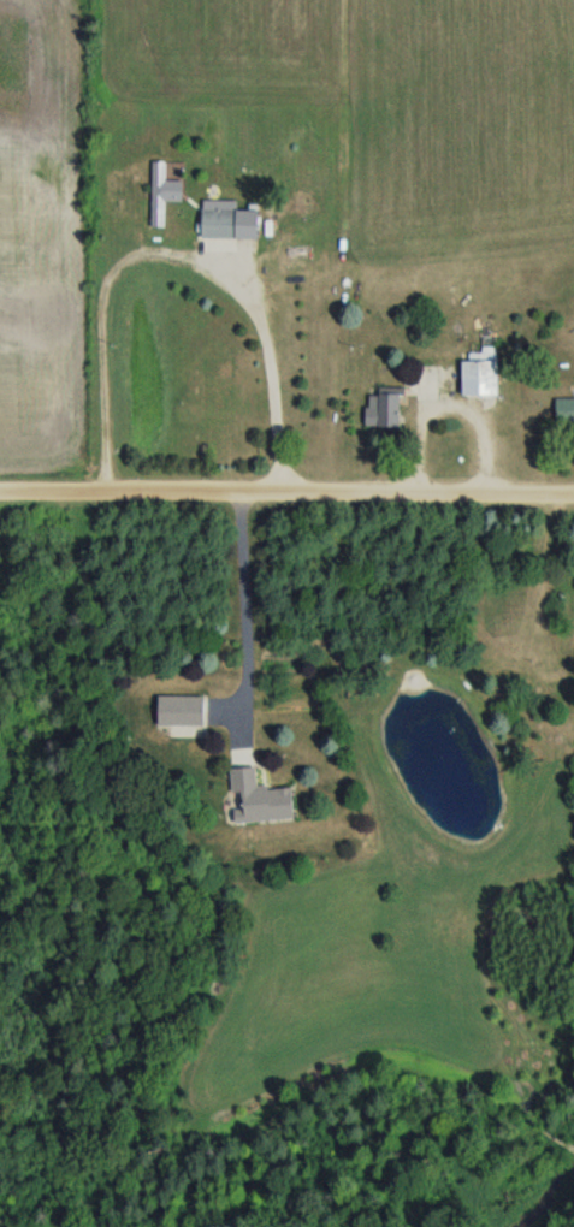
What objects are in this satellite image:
building: (164, 192)
building: (221, 223)
road: (168, 253)
building: (484, 371)
building: (387, 408)
building: (564, 410)
road: (286, 485)
road: (244, 604)
building: (183, 710)
building: (262, 799)

